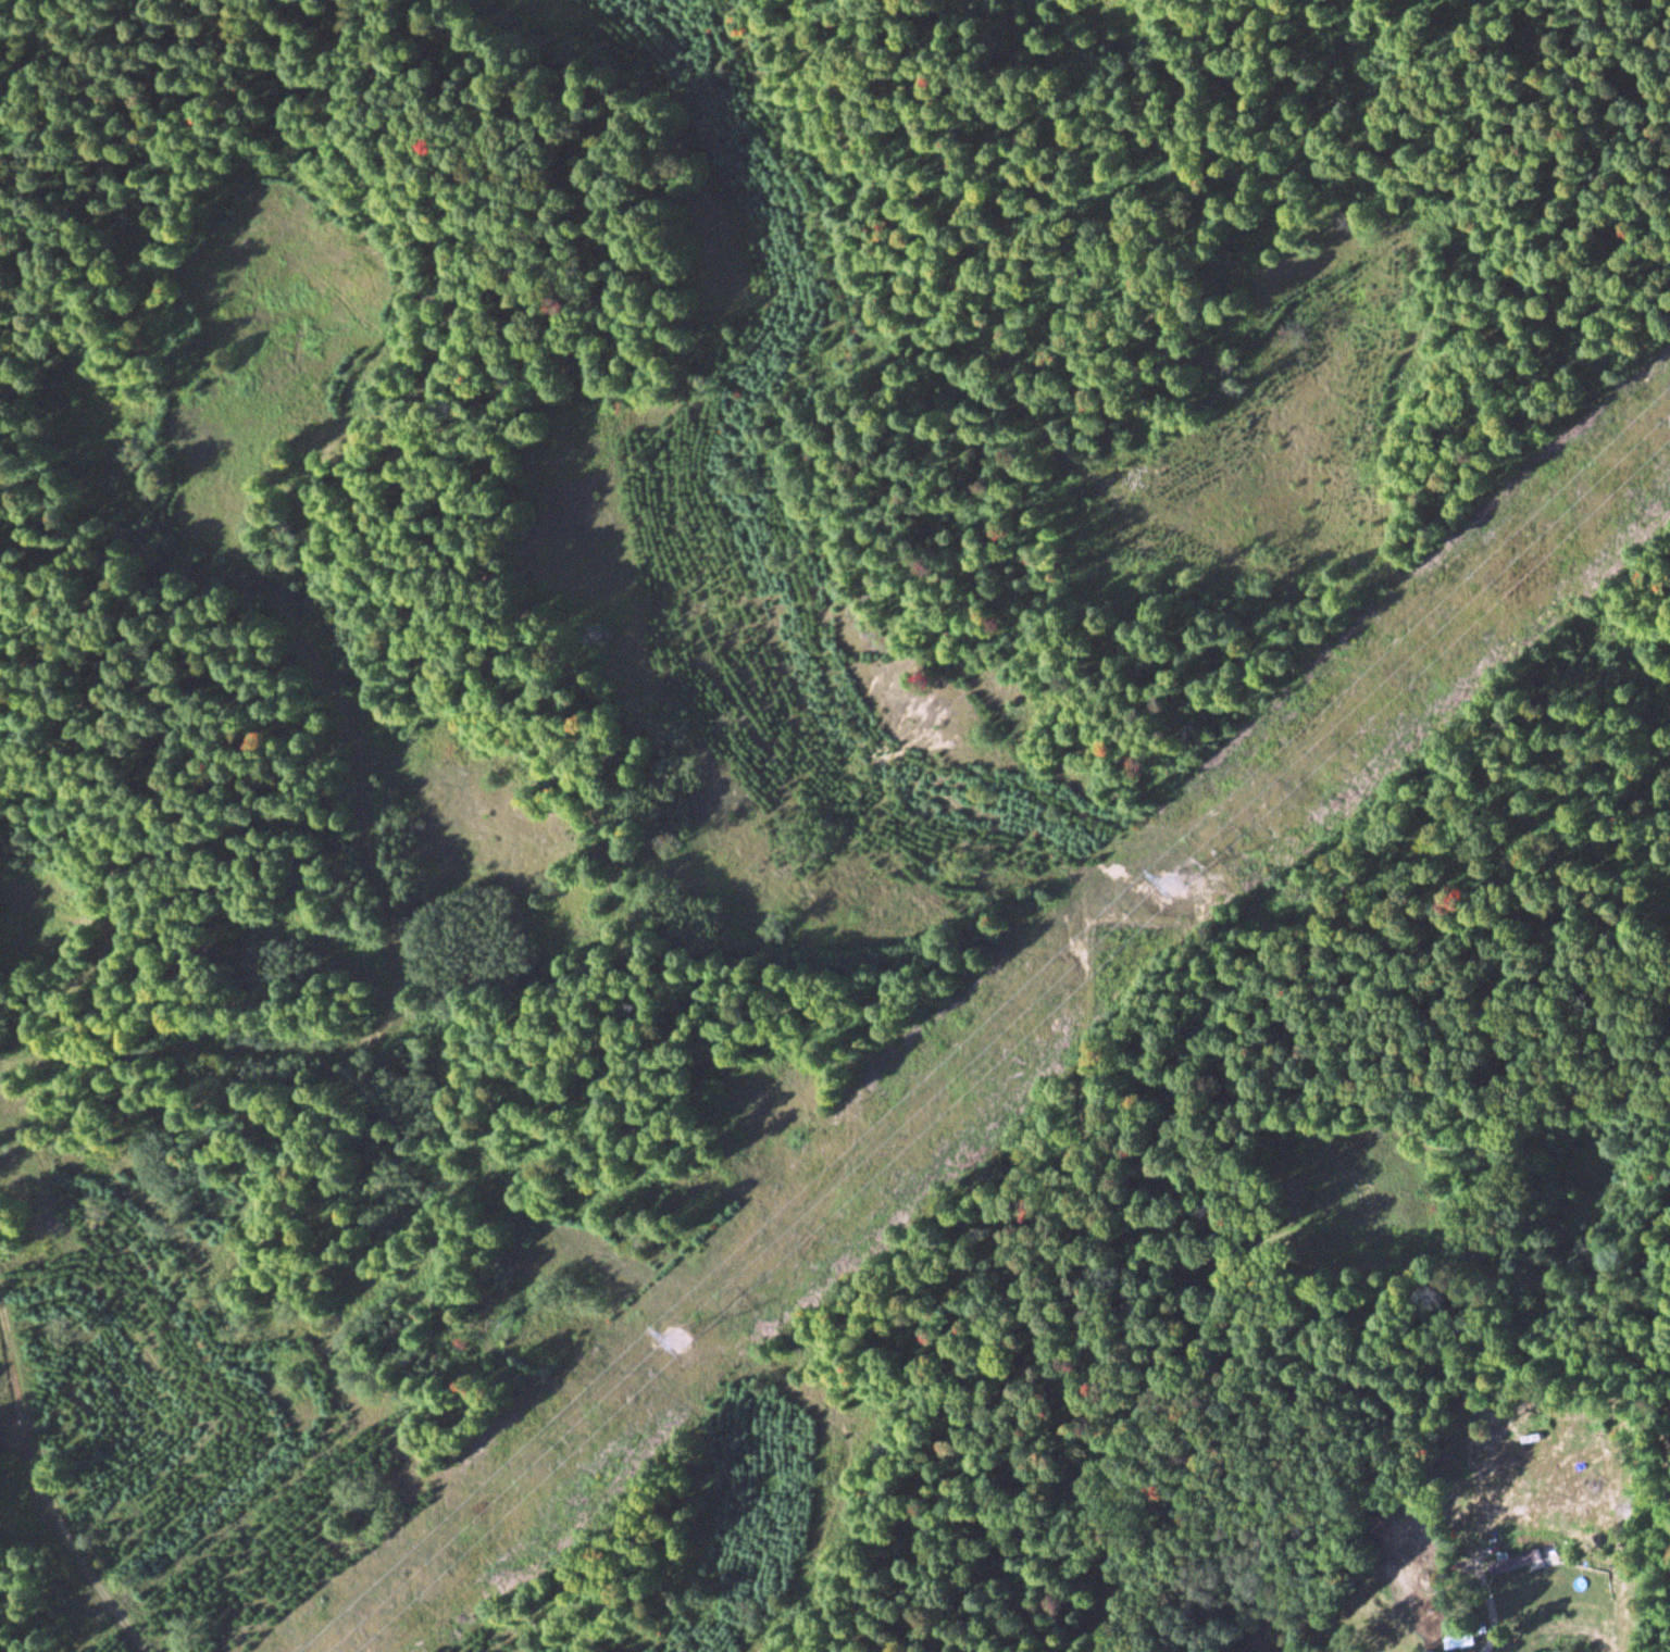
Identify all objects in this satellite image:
power tower: (1175, 879)
road: (1089, 1002)
power tower: (675, 1337)
building: (1507, 1564)

